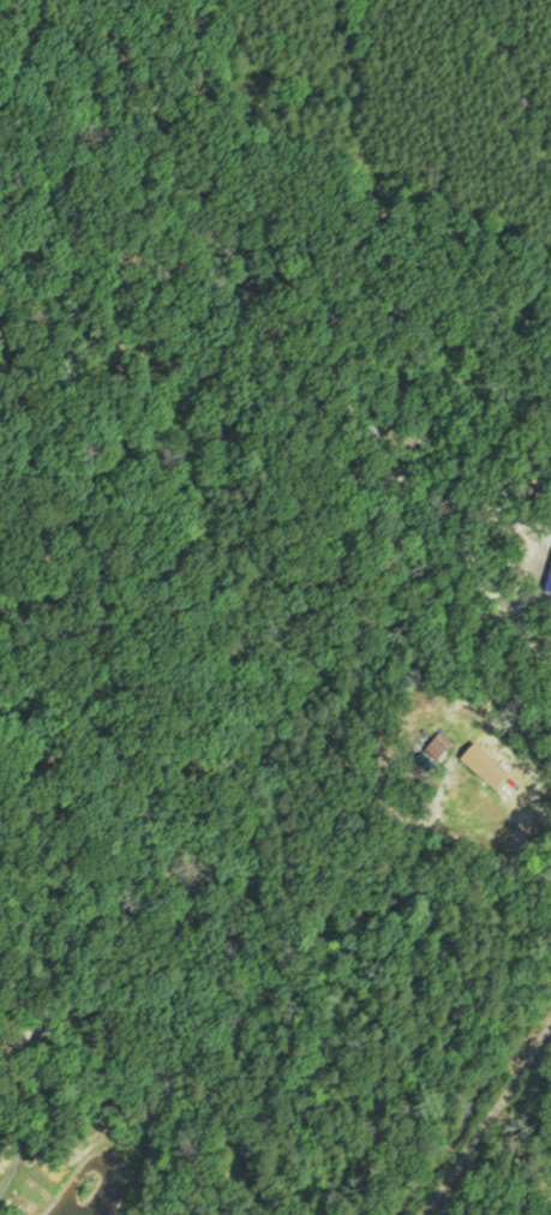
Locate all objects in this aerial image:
road: (486, 1124)

